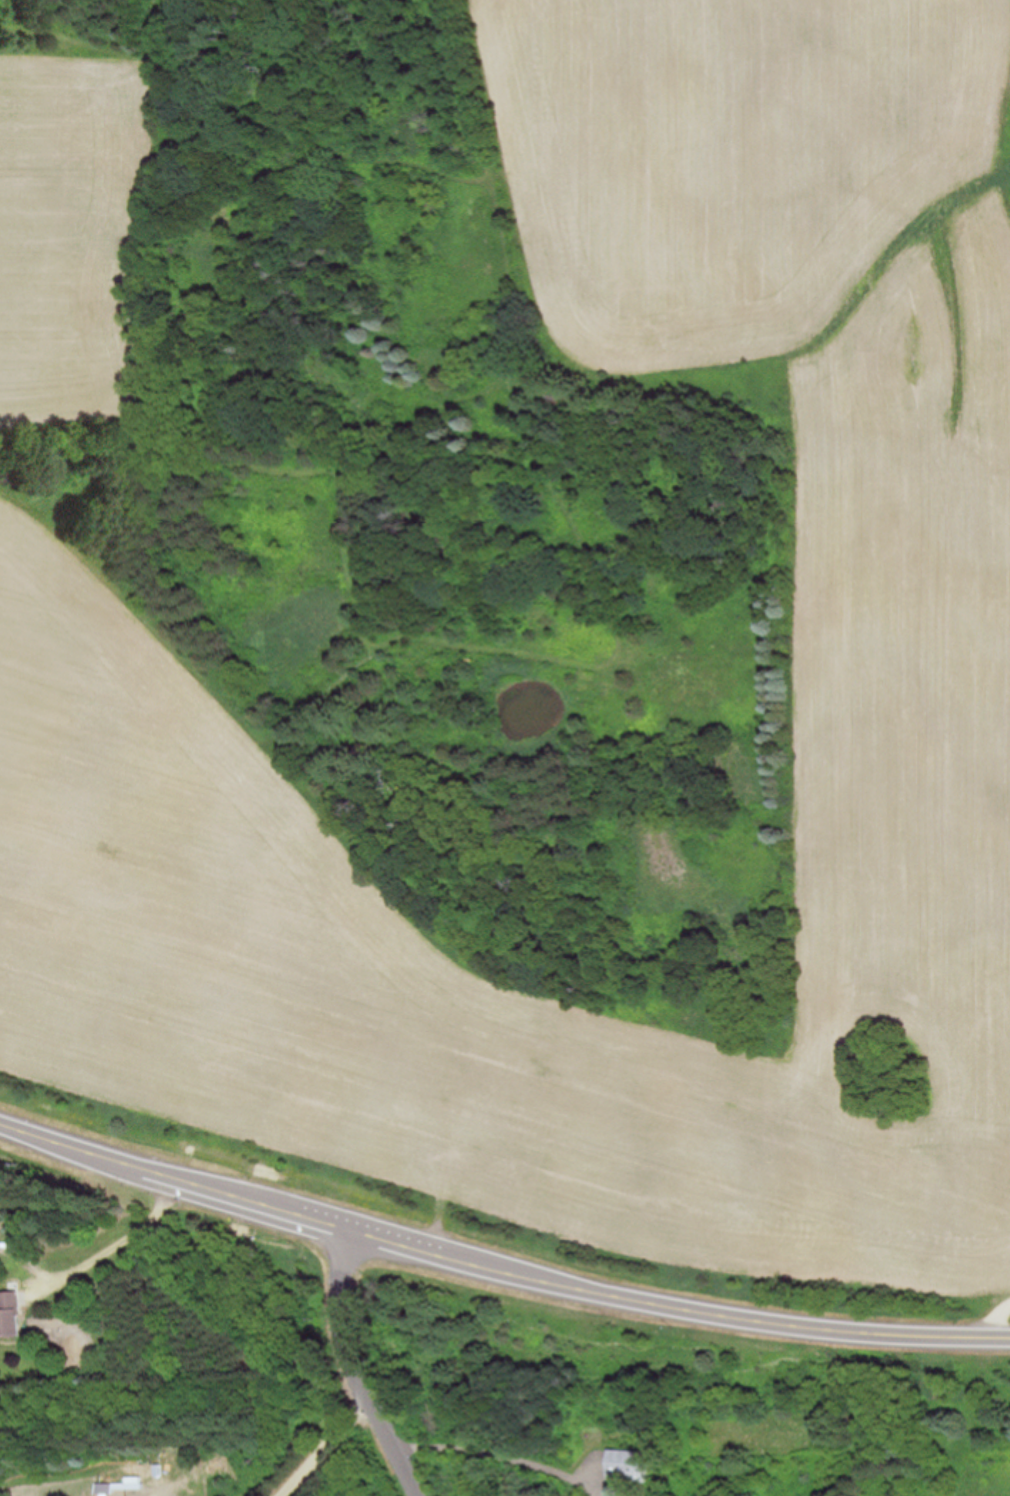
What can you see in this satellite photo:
road: (112, 1253)
road: (497, 1272)
building: (9, 1314)
road: (995, 1321)
road: (352, 1368)
road: (322, 1447)
road: (496, 1458)
building: (629, 1464)

